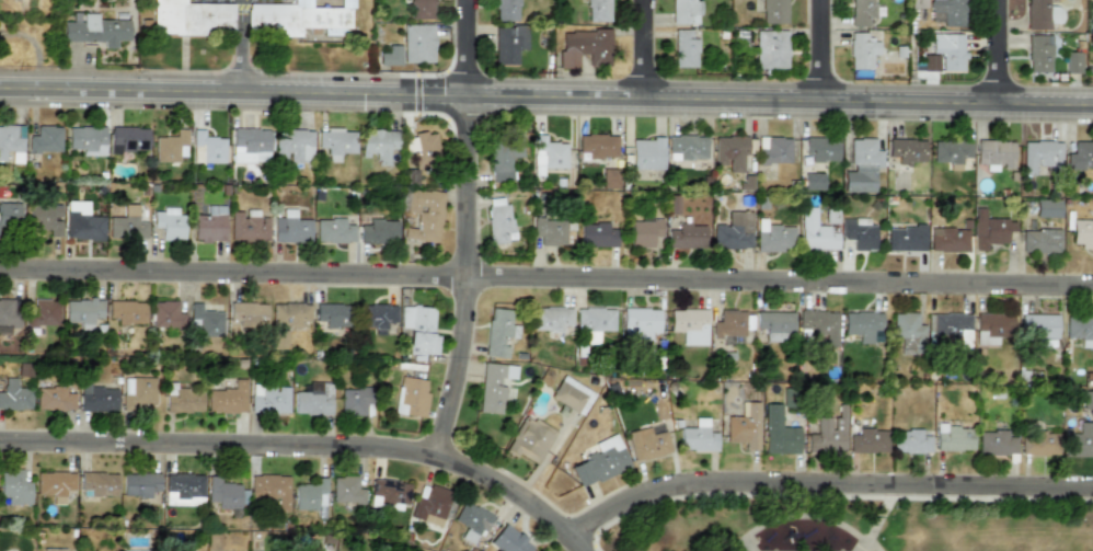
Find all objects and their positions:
building: (918, 3)
building: (422, 9)
building: (506, 10)
building: (598, 10)
building: (774, 11)
building: (686, 12)
building: (862, 13)
building: (947, 13)
building: (1037, 14)
building: (1054, 14)
building: (299, 16)
building: (191, 18)
building: (96, 31)
building: (417, 43)
building: (509, 45)
building: (584, 46)
road: (239, 47)
building: (684, 49)
building: (771, 49)
road: (647, 50)
building: (863, 50)
building: (948, 50)
road: (826, 51)
road: (1002, 53)
building: (1038, 55)
building: (390, 56)
building: (1072, 62)
road: (546, 99)
building: (10, 139)
building: (45, 139)
building: (87, 139)
building: (129, 139)
building: (335, 142)
building: (292, 145)
building: (378, 145)
building: (597, 145)
building: (169, 146)
building: (250, 146)
building: (686, 147)
building: (207, 148)
building: (821, 148)
building: (422, 149)
building: (907, 149)
building: (774, 150)
building: (729, 151)
building: (951, 151)
building: (646, 153)
building: (546, 154)
building: (996, 154)
building: (504, 156)
building: (1039, 156)
building: (1080, 156)
building: (862, 165)
building: (608, 177)
building: (812, 181)
building: (745, 182)
building: (1047, 208)
building: (422, 214)
building: (10, 218)
building: (45, 218)
building: (82, 221)
building: (498, 222)
building: (169, 223)
building: (127, 225)
building: (209, 225)
building: (248, 226)
building: (290, 228)
building: (548, 229)
building: (989, 229)
building: (333, 230)
road: (473, 231)
building: (733, 231)
building: (378, 232)
building: (643, 232)
building: (814, 233)
building: (1082, 233)
building: (598, 234)
building: (858, 234)
building: (686, 236)
building: (773, 237)
building: (905, 239)
building: (947, 239)
building: (1040, 241)
road: (545, 277)
building: (82, 311)
building: (9, 312)
building: (42, 312)
building: (126, 312)
building: (248, 313)
building: (289, 313)
building: (331, 314)
building: (165, 315)
building: (377, 317)
building: (550, 318)
building: (205, 320)
building: (640, 323)
building: (689, 324)
building: (728, 324)
building: (775, 325)
building: (818, 325)
building: (1038, 325)
building: (863, 326)
building: (992, 326)
building: (1080, 329)
building: (418, 330)
building: (947, 330)
building: (497, 332)
building: (908, 332)
building: (278, 338)
building: (493, 386)
building: (14, 394)
building: (571, 395)
building: (411, 397)
building: (227, 398)
building: (54, 399)
building: (97, 399)
building: (182, 399)
building: (268, 399)
building: (313, 399)
building: (1088, 400)
building: (355, 401)
building: (744, 426)
building: (779, 432)
building: (828, 434)
building: (697, 437)
building: (953, 437)
building: (527, 438)
building: (868, 440)
building: (910, 441)
building: (996, 443)
building: (1039, 443)
building: (646, 444)
road: (307, 448)
building: (599, 461)
building: (55, 484)
building: (97, 484)
building: (139, 484)
building: (14, 486)
road: (826, 486)
building: (183, 490)
building: (271, 490)
building: (346, 490)
building: (222, 493)
building: (390, 493)
building: (309, 495)
building: (430, 504)
road: (806, 514)
road: (875, 519)
building: (472, 520)
park: (853, 524)
building: (508, 540)
building: (53, 549)

